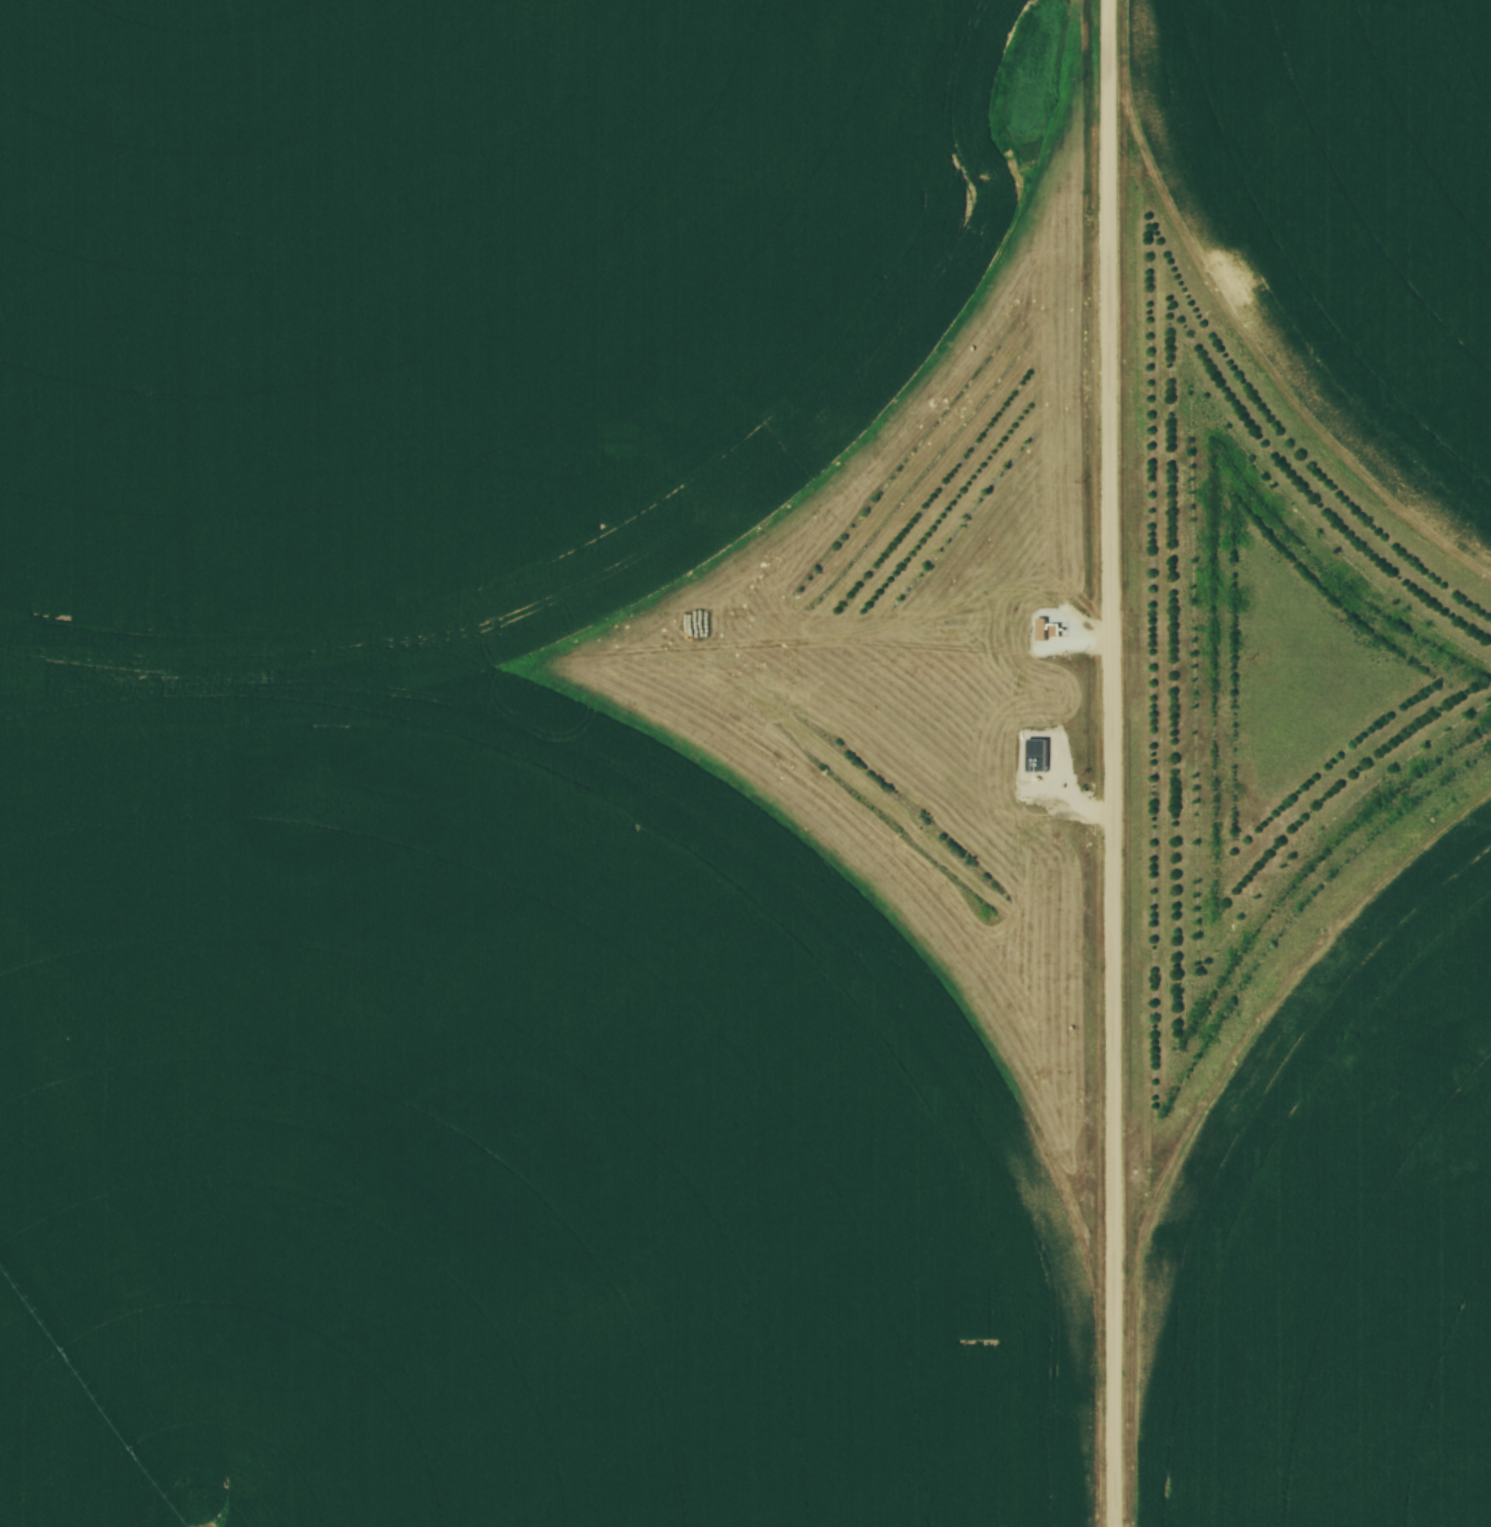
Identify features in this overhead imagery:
building: (1041, 631)
building: (1039, 758)
road: (1107, 763)
building: (806, 1321)
building: (101, 1348)
building: (686, 1376)
building: (621, 1430)
building: (529, 1450)

